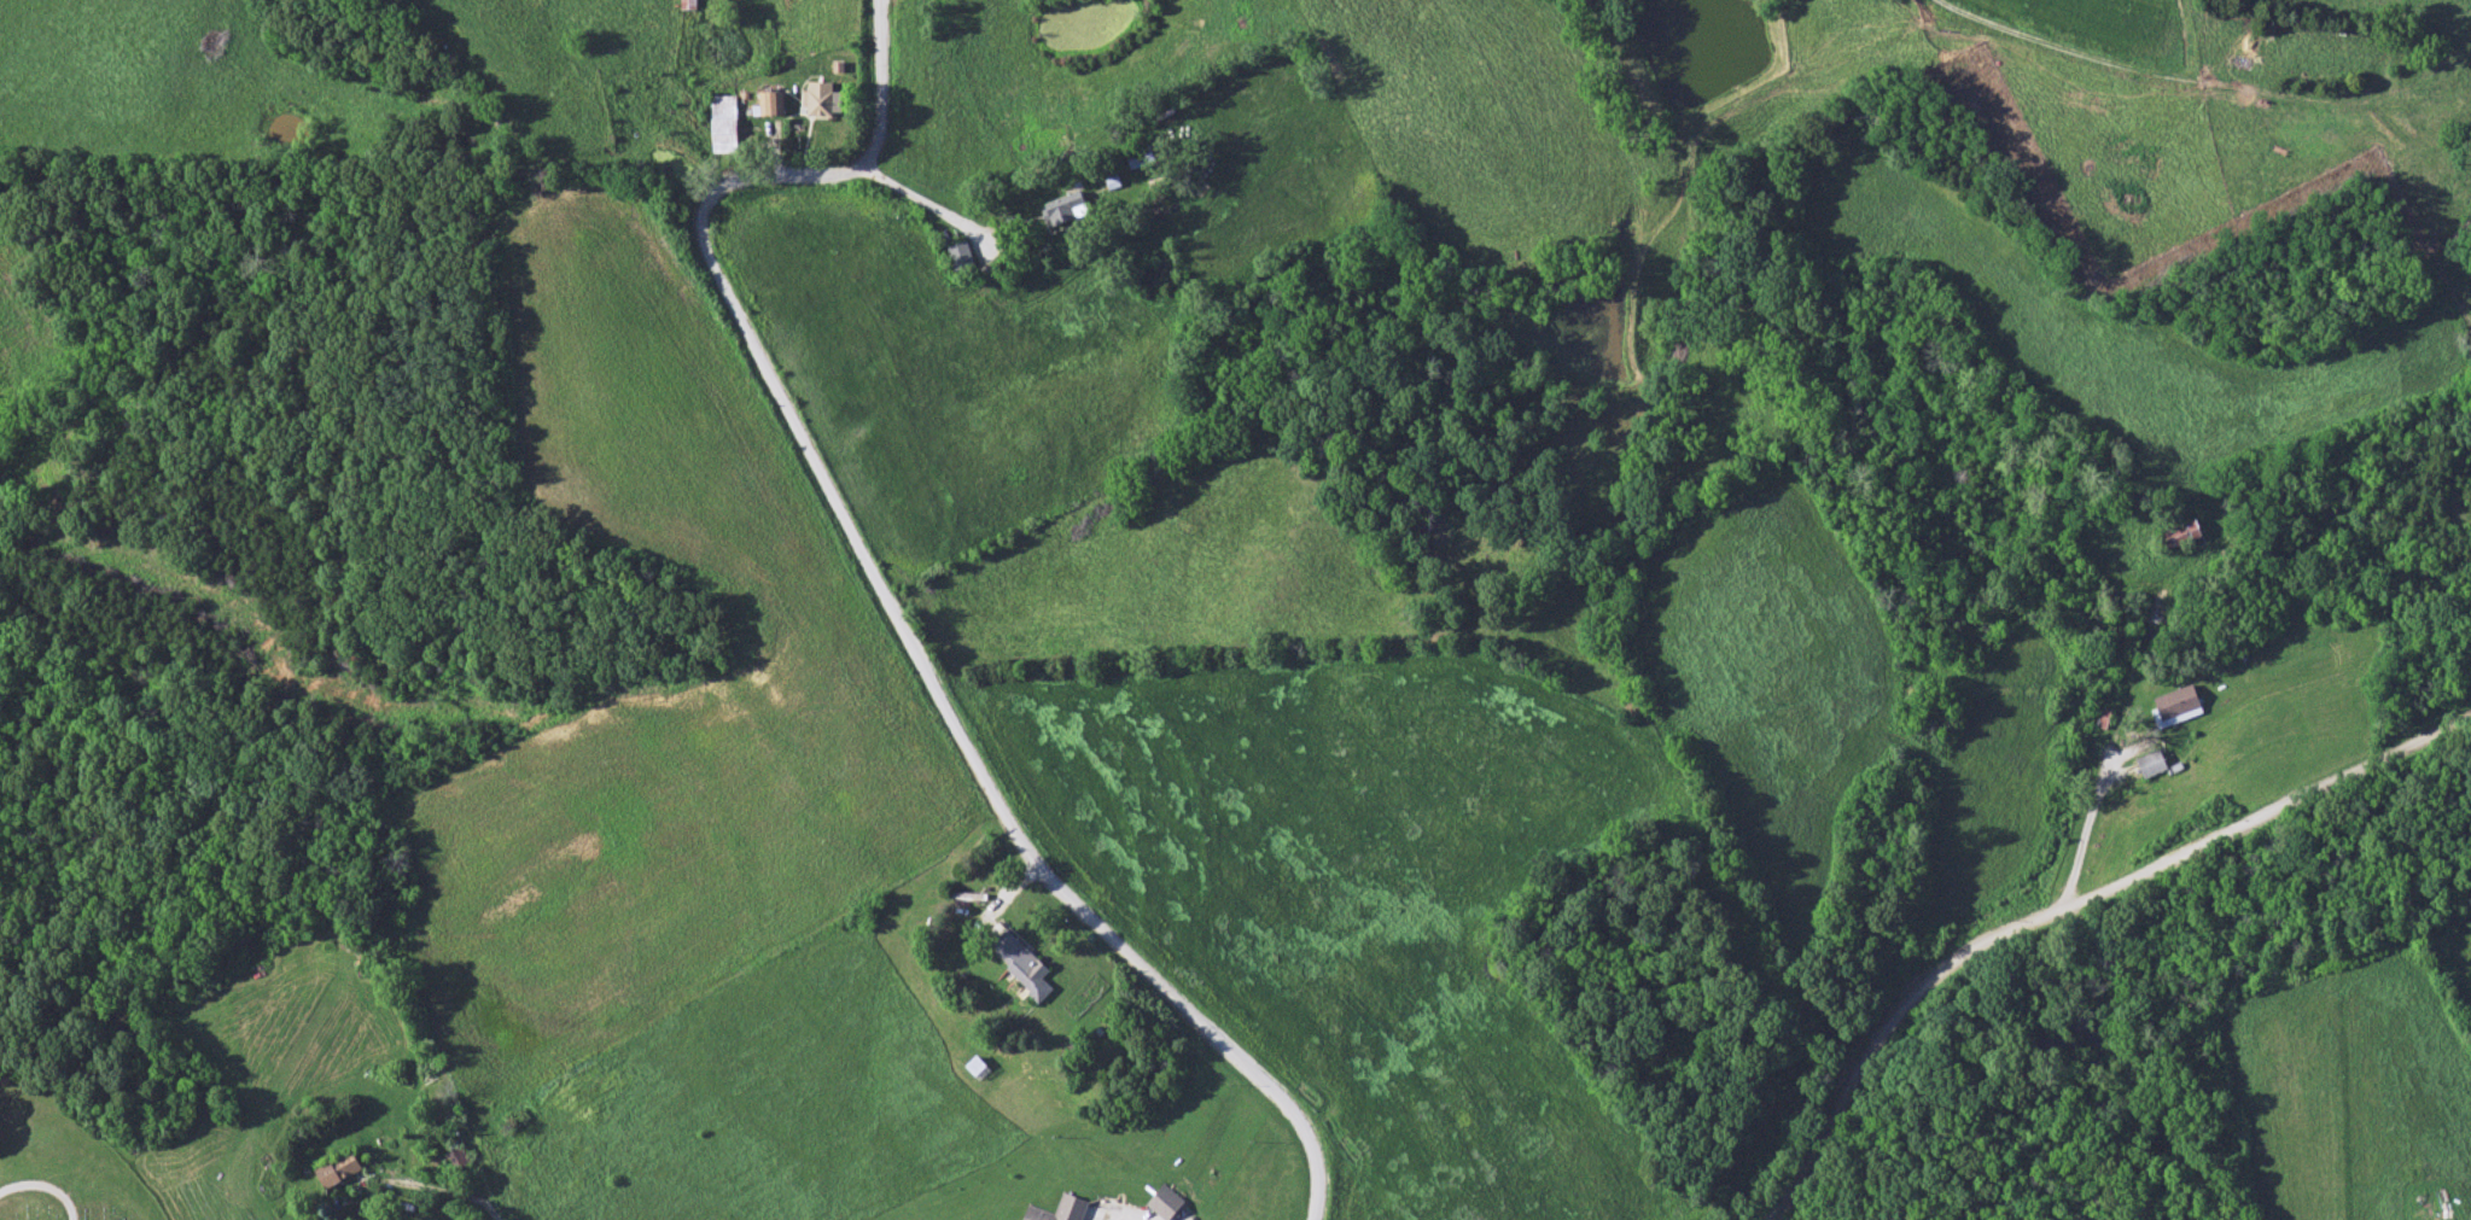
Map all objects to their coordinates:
road: (2098, 62)
road: (925, 202)
road: (897, 578)
road: (2090, 834)
road: (2061, 918)
park: (69, 1171)
road: (43, 1189)
road: (493, 1215)

